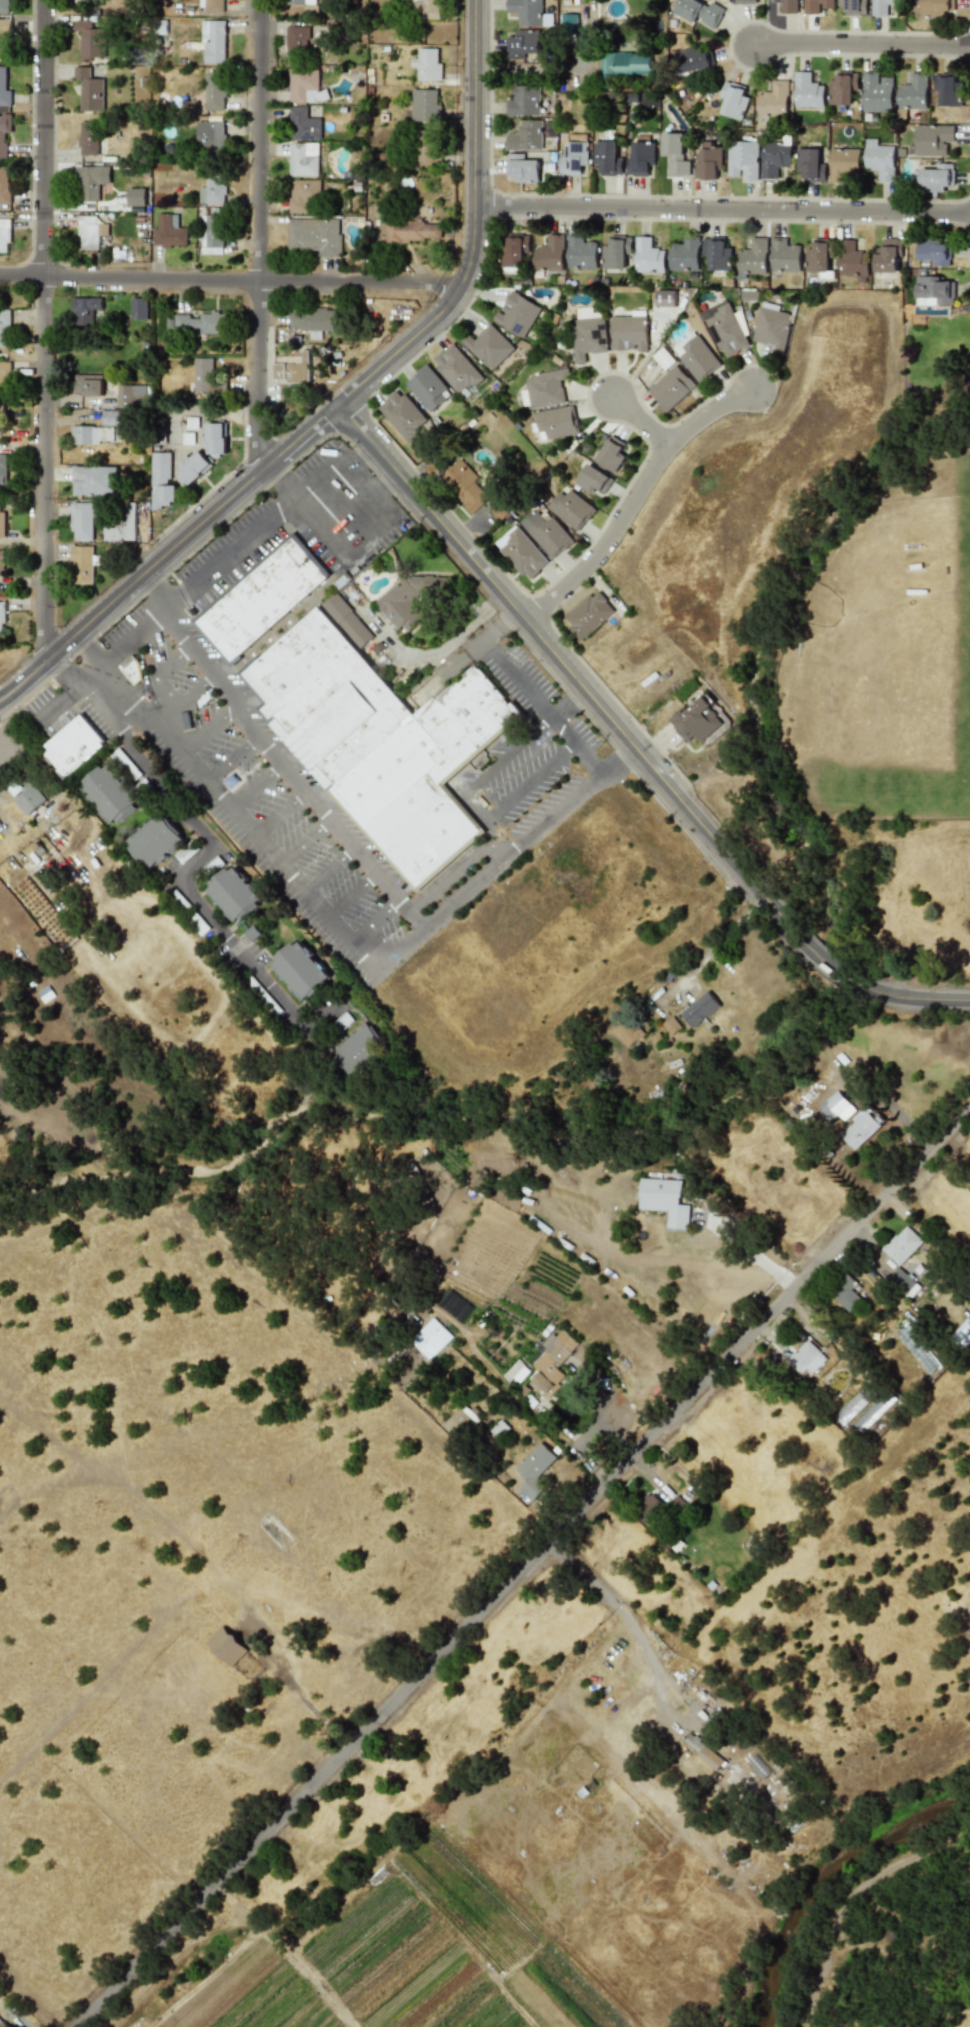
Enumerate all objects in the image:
building: (89, 0)
building: (744, 1)
building: (300, 2)
building: (211, 5)
building: (4, 6)
building: (787, 6)
building: (816, 6)
building: (854, 7)
building: (881, 7)
building: (936, 7)
building: (428, 8)
building: (526, 11)
building: (699, 12)
building: (4, 38)
building: (92, 40)
building: (296, 40)
building: (213, 41)
building: (523, 42)
road: (862, 43)
building: (693, 61)
building: (625, 63)
building: (427, 65)
road: (529, 70)
building: (305, 86)
building: (842, 88)
building: (4, 89)
building: (947, 89)
building: (89, 90)
building: (215, 91)
building: (807, 91)
building: (912, 92)
building: (876, 93)
building: (733, 100)
building: (773, 100)
building: (523, 101)
building: (425, 105)
building: (303, 124)
building: (4, 131)
building: (210, 135)
building: (530, 135)
building: (88, 138)
building: (933, 139)
building: (428, 146)
road: (475, 147)
building: (675, 154)
building: (775, 157)
building: (574, 158)
building: (607, 158)
building: (640, 158)
building: (303, 159)
building: (879, 159)
building: (707, 160)
building: (743, 160)
building: (843, 164)
building: (522, 168)
building: (933, 178)
building: (91, 182)
building: (4, 185)
building: (212, 191)
building: (303, 194)
building: (136, 197)
road: (722, 207)
building: (411, 230)
building: (169, 231)
building: (90, 232)
building: (4, 235)
road: (259, 235)
building: (313, 236)
building: (517, 249)
building: (616, 252)
building: (550, 253)
building: (581, 253)
building: (717, 253)
building: (934, 253)
building: (685, 254)
building: (648, 256)
building: (785, 256)
building: (818, 256)
building: (887, 256)
building: (754, 257)
building: (853, 259)
road: (229, 280)
building: (934, 289)
building: (666, 297)
building: (138, 308)
building: (84, 309)
building: (518, 314)
building: (314, 319)
building: (201, 323)
building: (772, 327)
building: (4, 328)
road: (44, 328)
building: (726, 328)
building: (589, 332)
building: (629, 333)
building: (489, 346)
building: (696, 356)
building: (664, 358)
building: (457, 368)
building: (293, 371)
building: (4, 377)
building: (206, 377)
building: (87, 385)
building: (429, 388)
building: (547, 388)
building: (671, 388)
building: (131, 396)
building: (1, 413)
building: (403, 414)
building: (110, 417)
road: (638, 421)
building: (556, 422)
building: (90, 434)
building: (216, 439)
building: (611, 454)
building: (193, 466)
building: (2, 473)
road: (377, 473)
building: (593, 479)
building: (93, 480)
building: (161, 481)
road: (361, 481)
building: (463, 483)
road: (634, 497)
road: (231, 498)
building: (571, 508)
building: (499, 511)
building: (81, 521)
building: (2, 524)
building: (121, 524)
road: (368, 528)
building: (548, 532)
building: (523, 553)
building: (1, 562)
building: (82, 564)
building: (263, 596)
building: (409, 598)
building: (1, 615)
building: (590, 615)
building: (348, 619)
road: (444, 646)
road: (119, 651)
road: (158, 668)
building: (132, 671)
road: (573, 675)
road: (220, 677)
road: (547, 715)
building: (696, 720)
road: (156, 721)
road: (208, 729)
building: (381, 741)
building: (72, 746)
road: (508, 750)
road: (231, 760)
road: (529, 781)
road: (256, 787)
building: (108, 794)
building: (30, 799)
road: (279, 813)
building: (153, 841)
road: (304, 843)
road: (490, 851)
road: (199, 854)
road: (327, 868)
road: (443, 875)
building: (233, 893)
road: (351, 896)
building: (29, 898)
road: (374, 921)
road: (340, 931)
road: (826, 961)
building: (300, 969)
road: (905, 997)
building: (700, 1009)
building: (628, 1032)
building: (358, 1049)
building: (836, 1109)
road: (893, 1112)
building: (860, 1129)
building: (664, 1200)
building: (901, 1245)
road: (752, 1252)
building: (846, 1295)
building: (430, 1338)
building: (806, 1358)
building: (552, 1359)
road: (598, 1421)
building: (461, 1424)
road: (614, 1440)
building: (534, 1470)
building: (650, 1504)
building: (677, 1505)
road: (522, 1568)
road: (622, 1615)
building: (226, 1645)
crop: (315, 1647)
building: (702, 1751)

